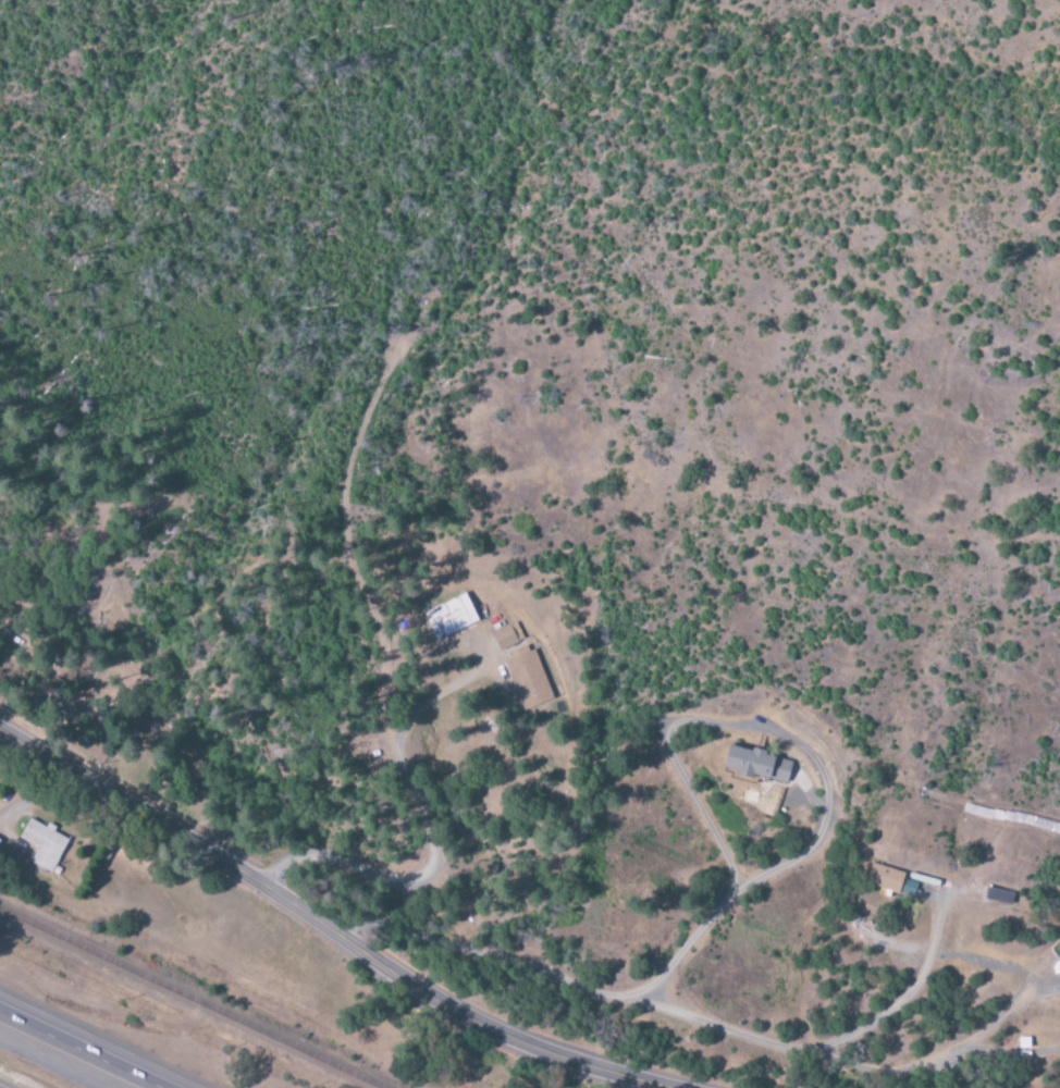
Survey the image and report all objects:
building: (449, 618)
building: (507, 636)
building: (526, 677)
building: (756, 766)
road: (427, 830)
building: (42, 845)
road: (754, 877)
building: (884, 879)
building: (998, 897)
road: (325, 927)
railway: (182, 1002)
road: (816, 1044)
road: (78, 1051)
road: (934, 1055)

